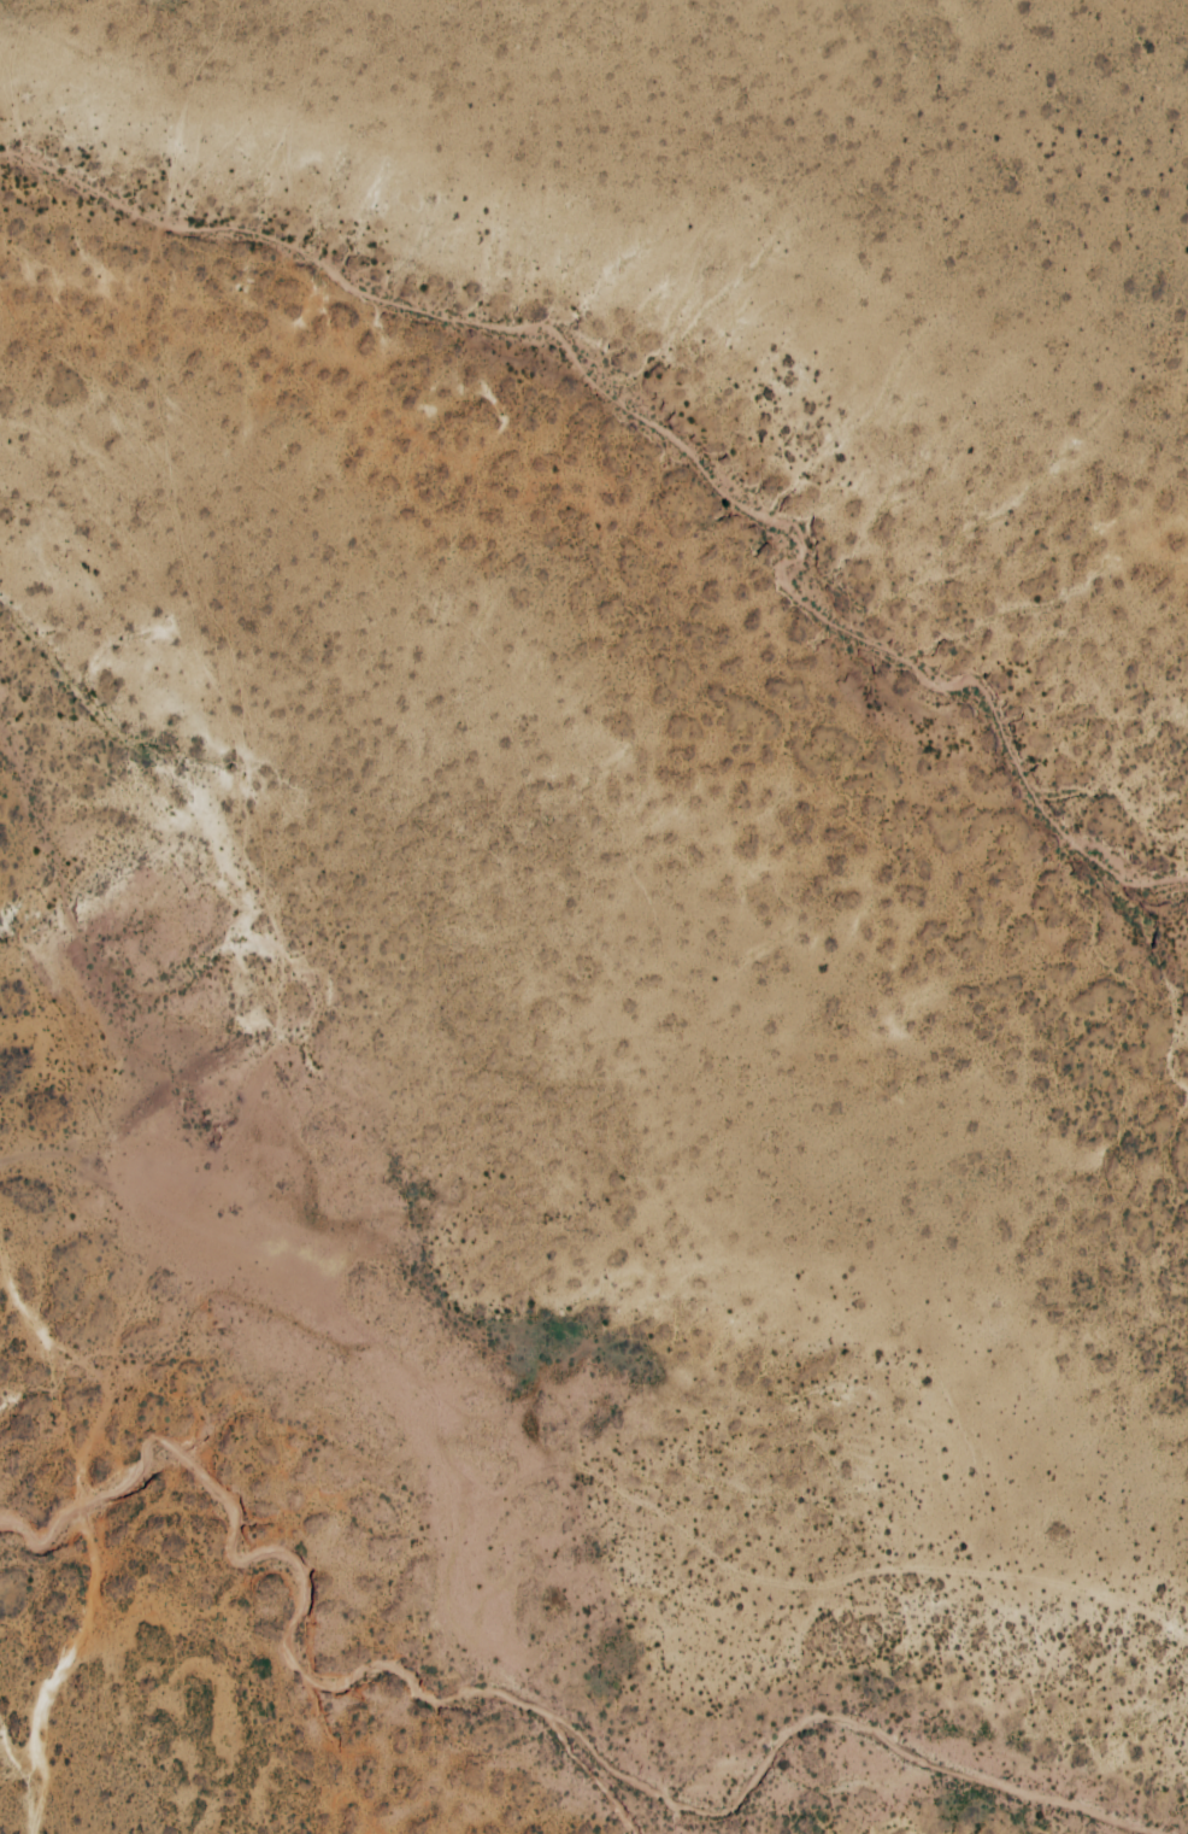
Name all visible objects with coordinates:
road: (59, 1523)

